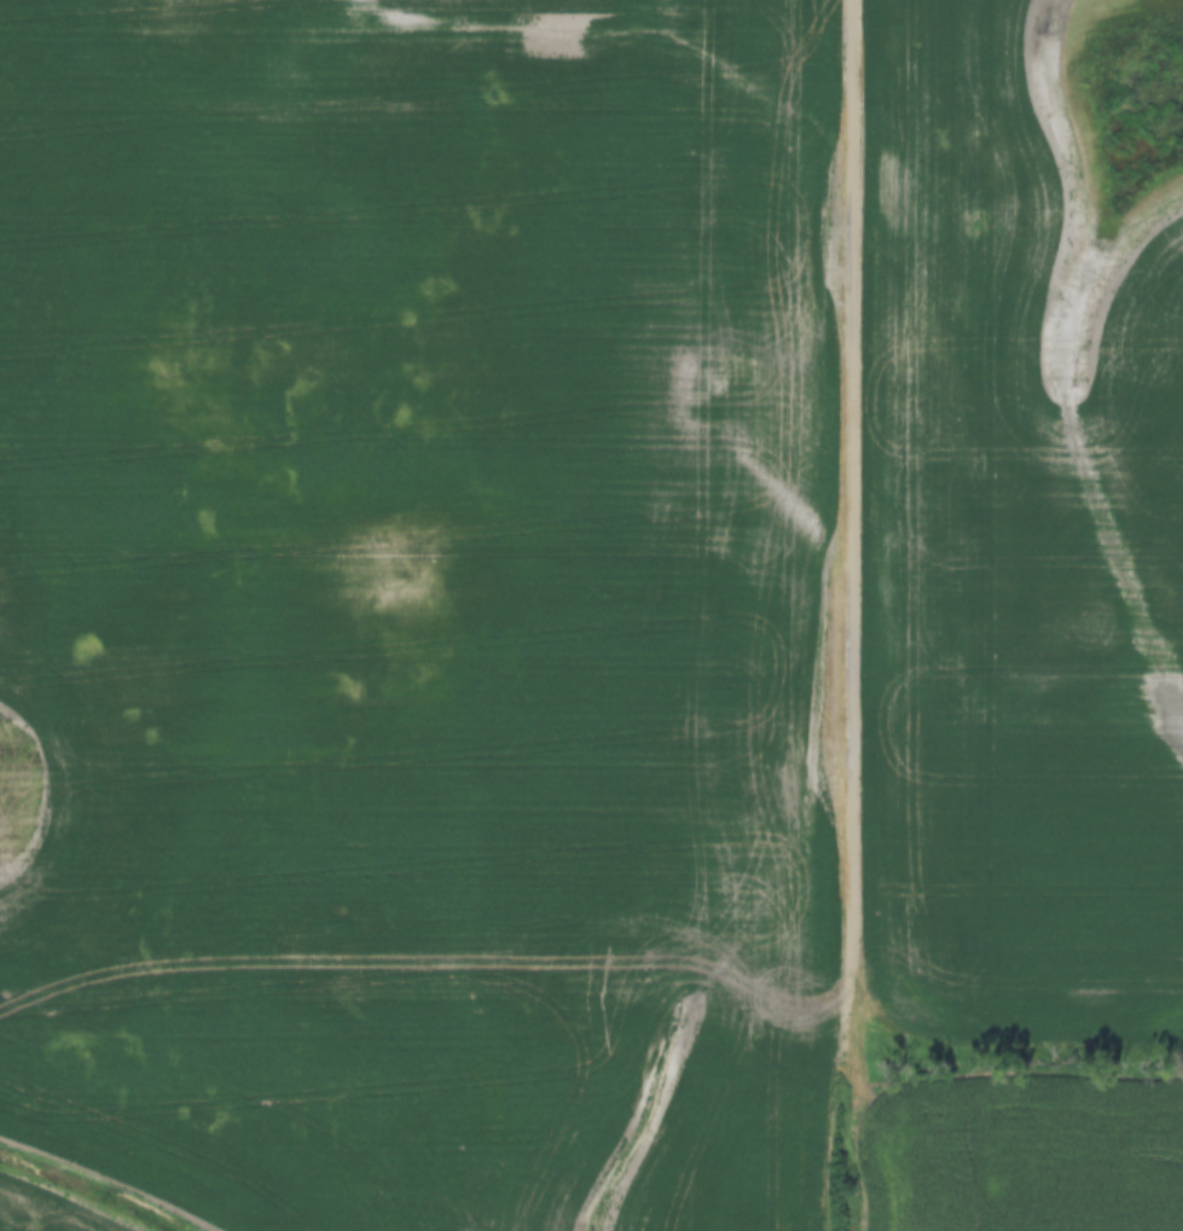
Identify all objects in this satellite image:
road: (847, 527)

